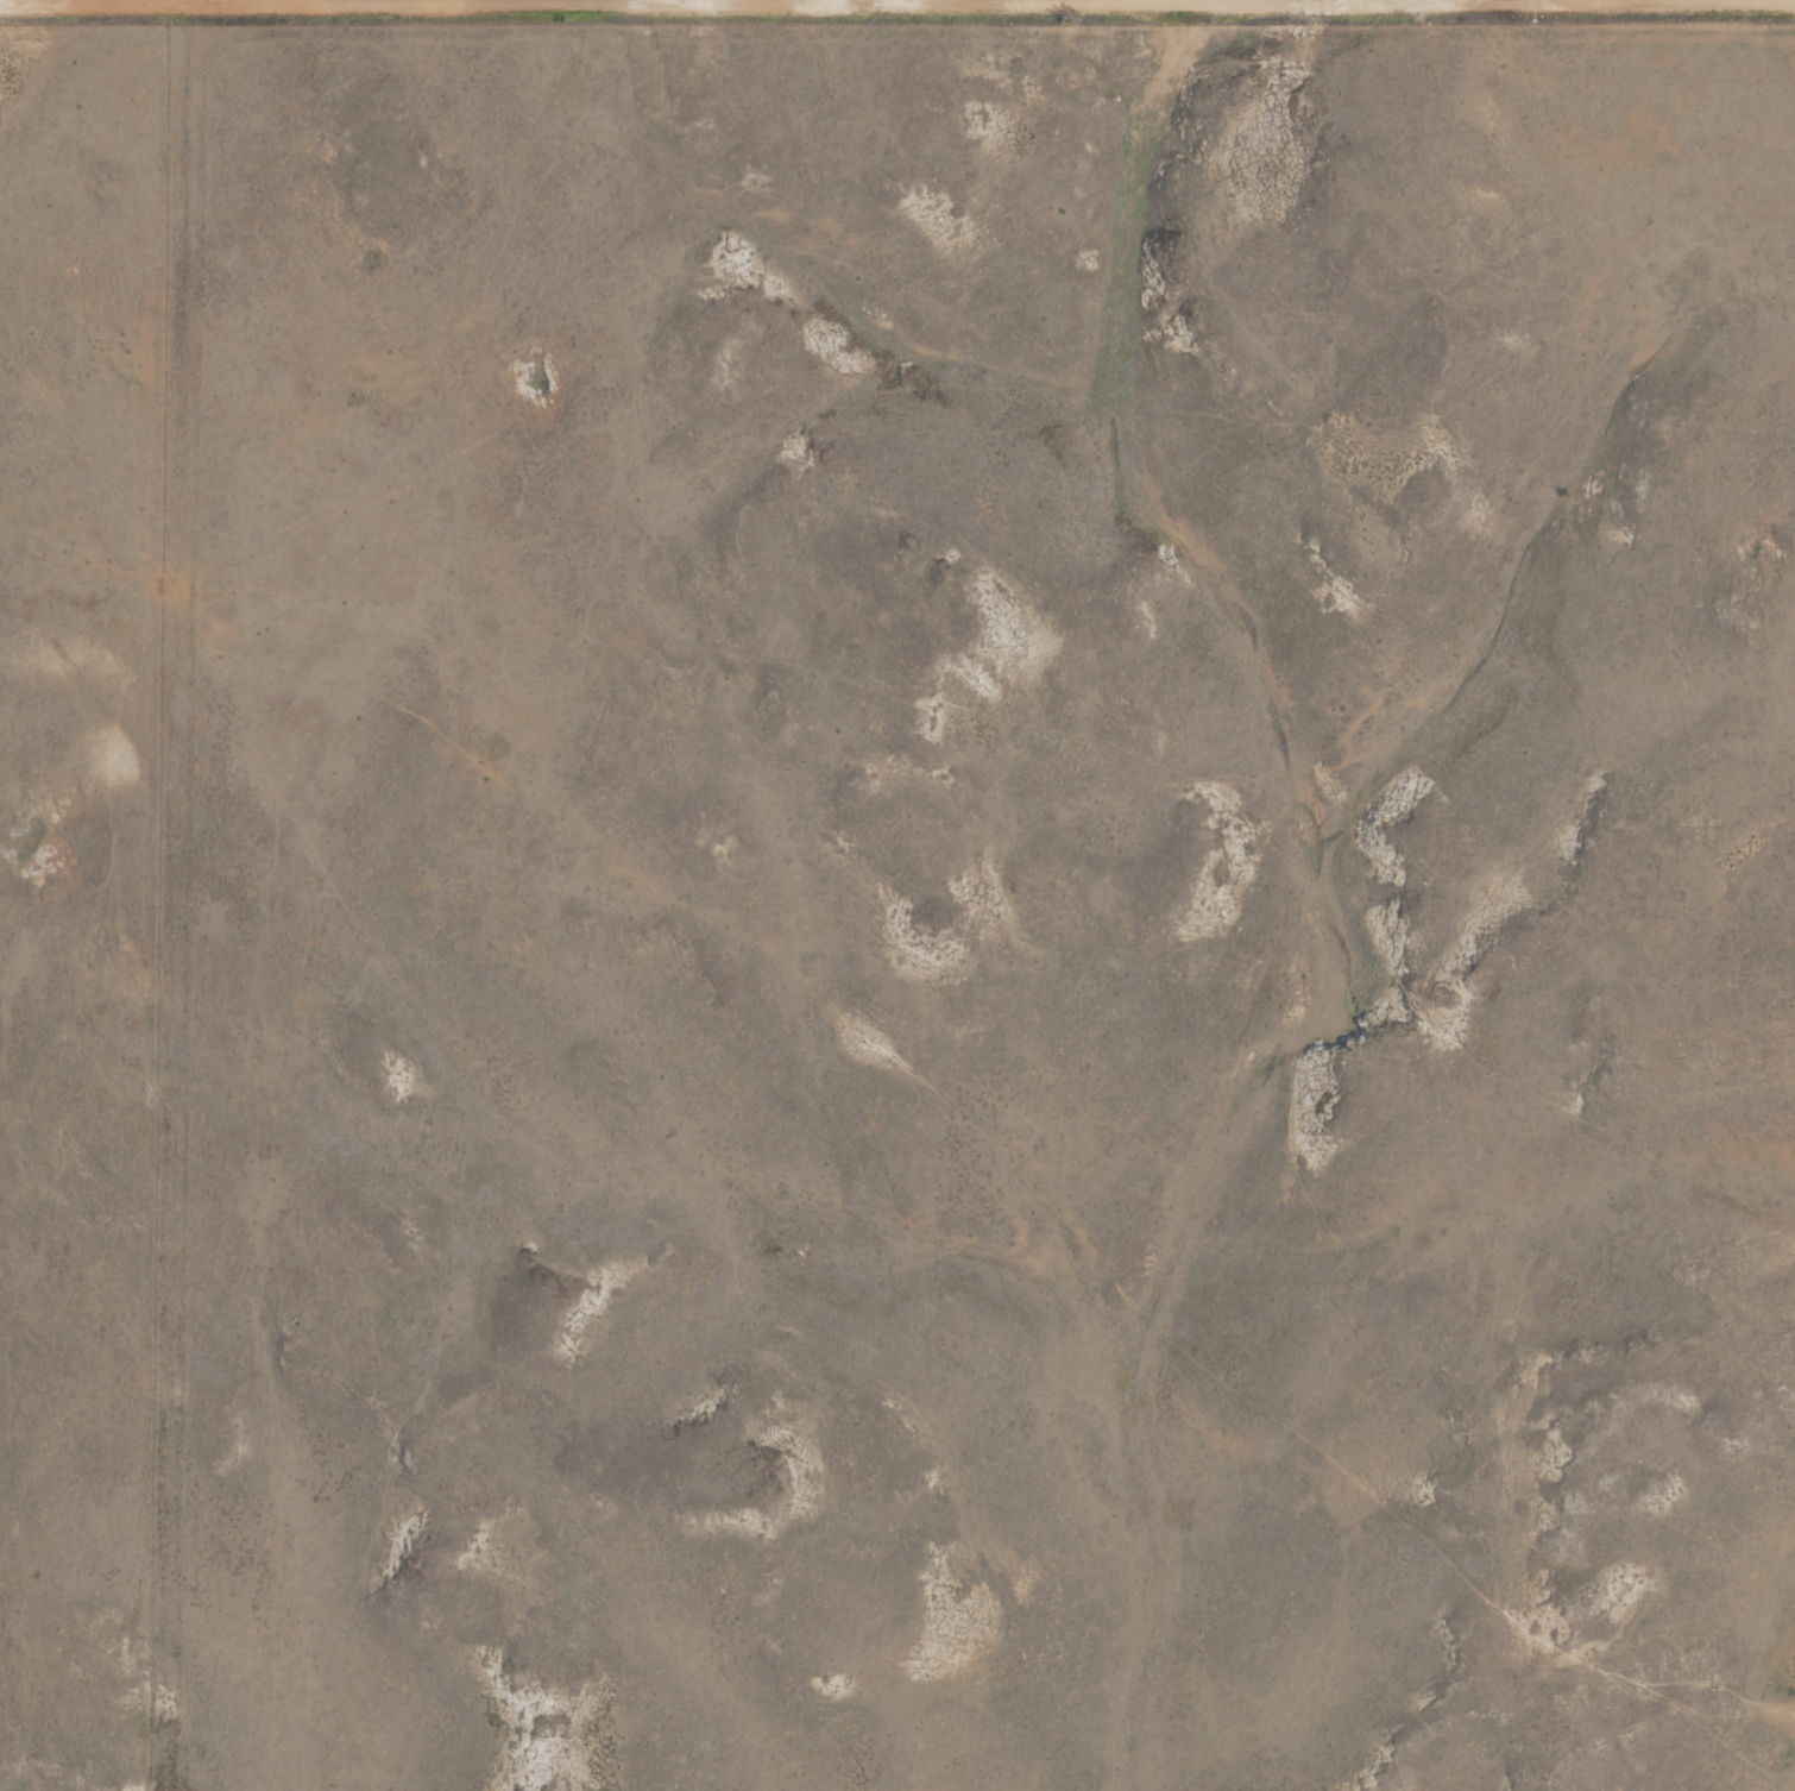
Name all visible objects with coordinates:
road: (897, 4)
road: (214, 898)

